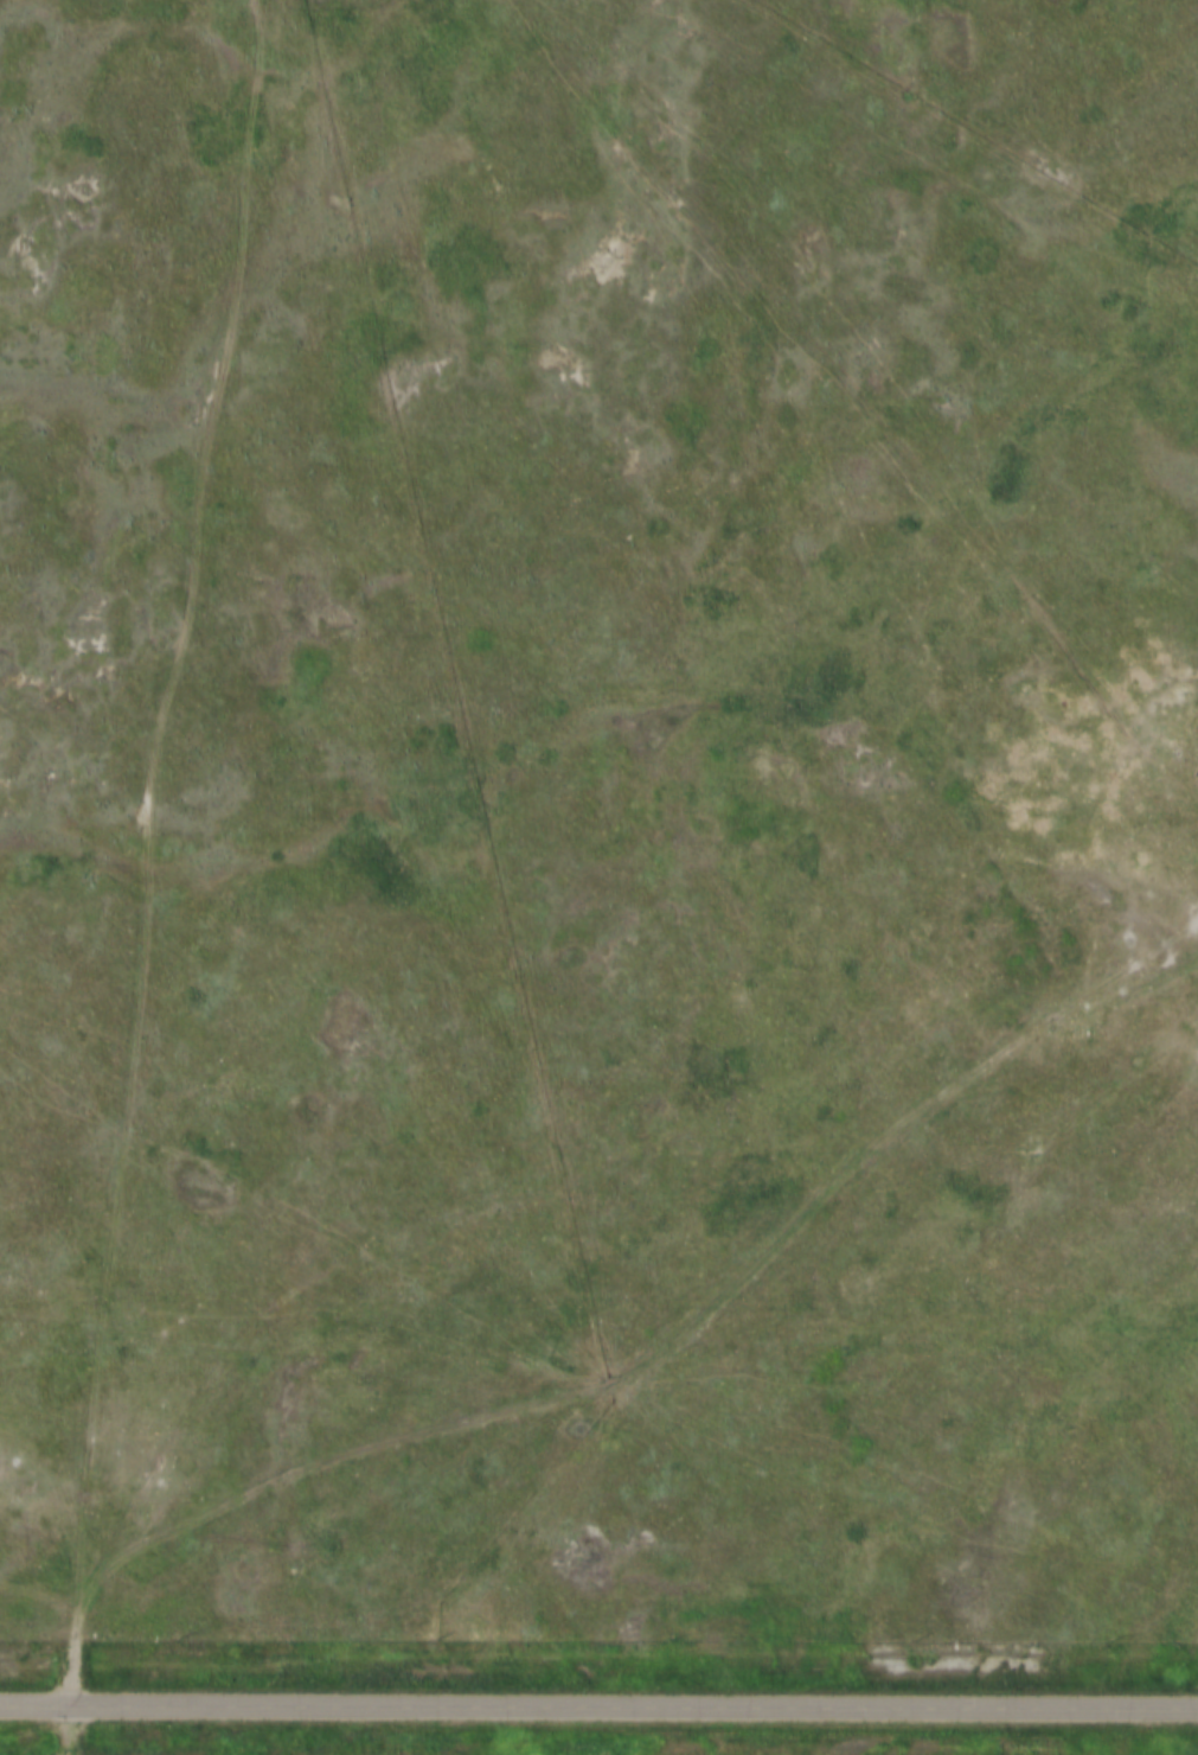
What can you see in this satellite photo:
road: (155, 849)
road: (683, 1327)
road: (598, 1706)

